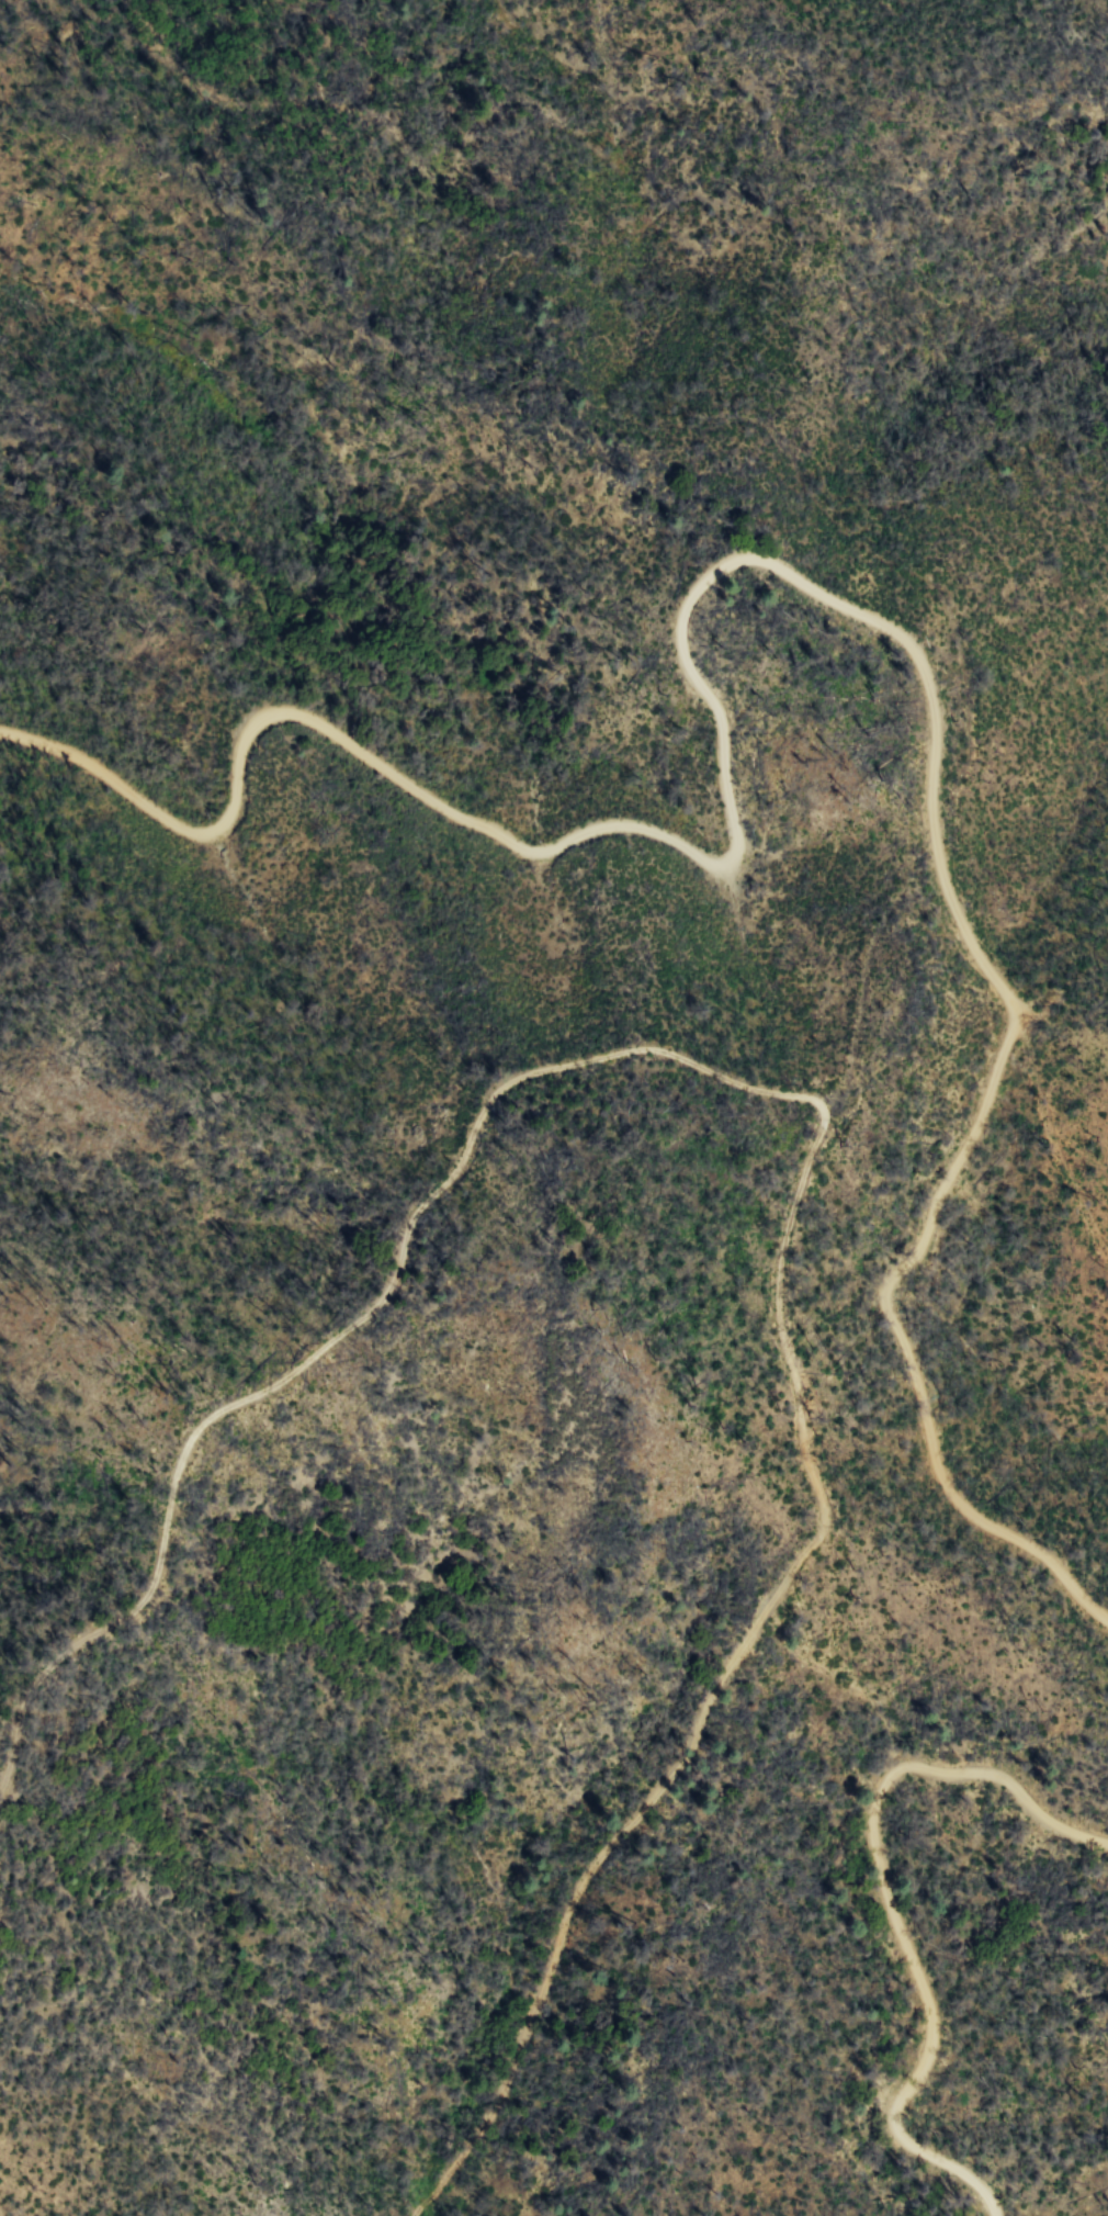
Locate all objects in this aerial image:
road: (788, 573)
road: (892, 1891)

